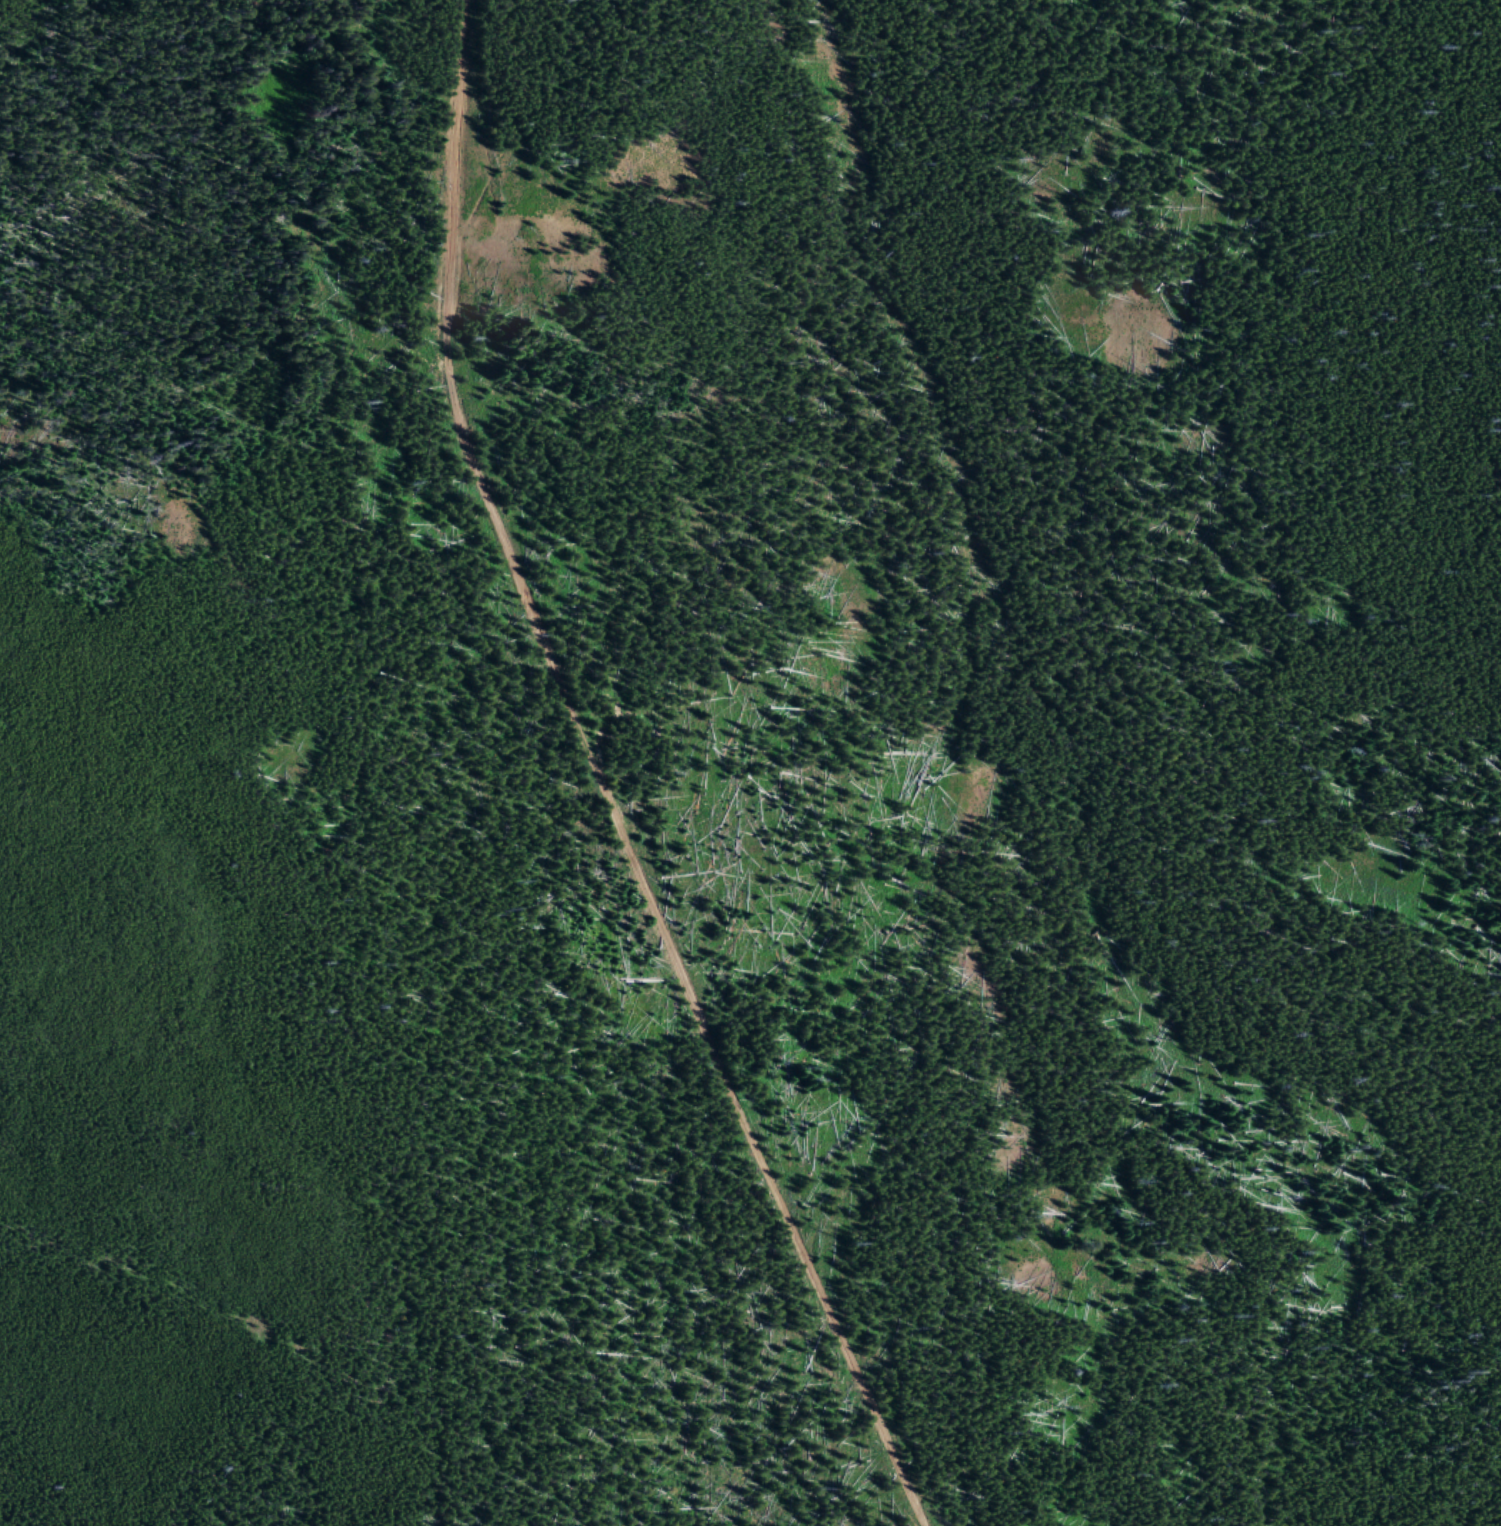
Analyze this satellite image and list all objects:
road: (269, 219)
road: (589, 782)

